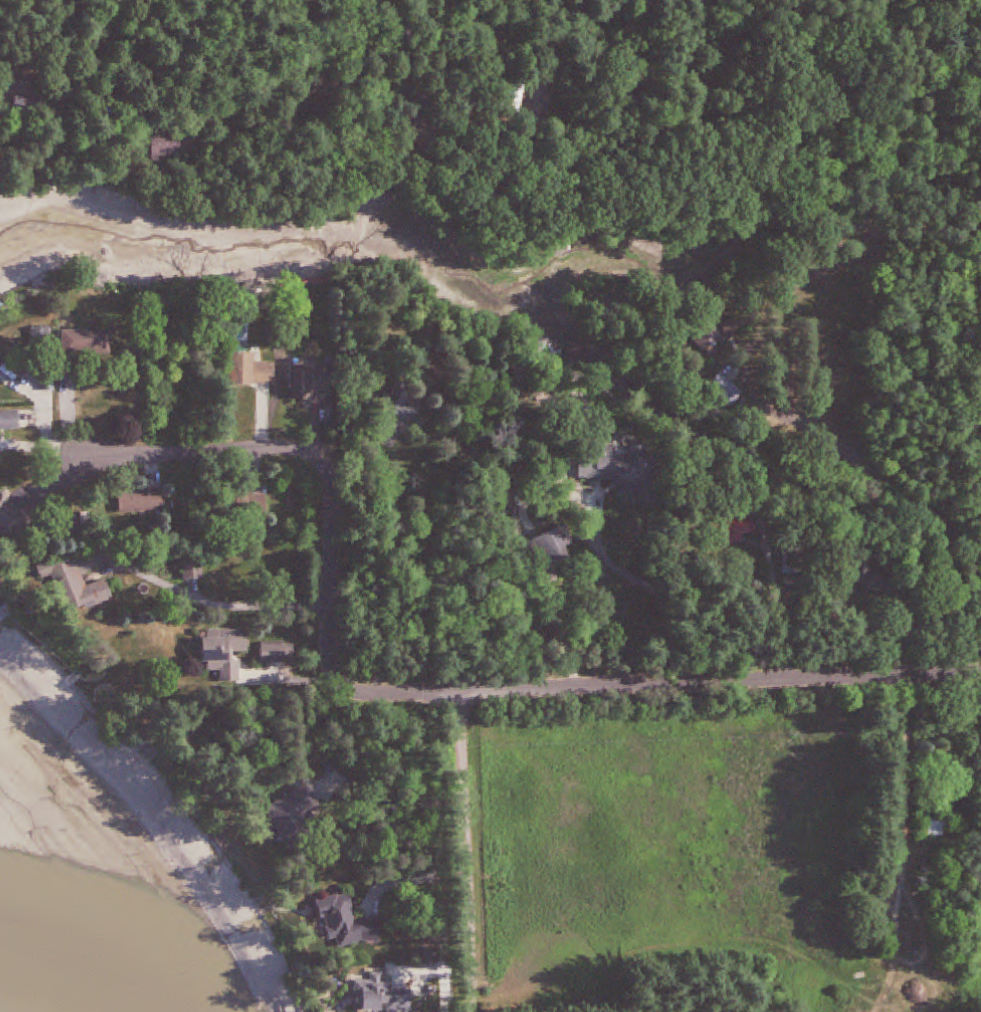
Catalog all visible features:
building: (33, 106)
building: (173, 148)
building: (725, 332)
building: (95, 343)
building: (3, 362)
building: (259, 371)
building: (317, 382)
building: (731, 392)
building: (411, 404)
road: (44, 417)
building: (12, 421)
road: (868, 466)
building: (627, 471)
building: (147, 502)
building: (255, 503)
road: (328, 509)
building: (12, 516)
building: (752, 526)
building: (558, 549)
building: (797, 561)
building: (198, 570)
building: (82, 583)
road: (216, 602)
building: (229, 648)
building: (282, 654)
road: (727, 686)
building: (298, 817)
road: (438, 825)
building: (939, 827)
road: (475, 852)
building: (354, 925)
river: (69, 983)
building: (387, 997)

